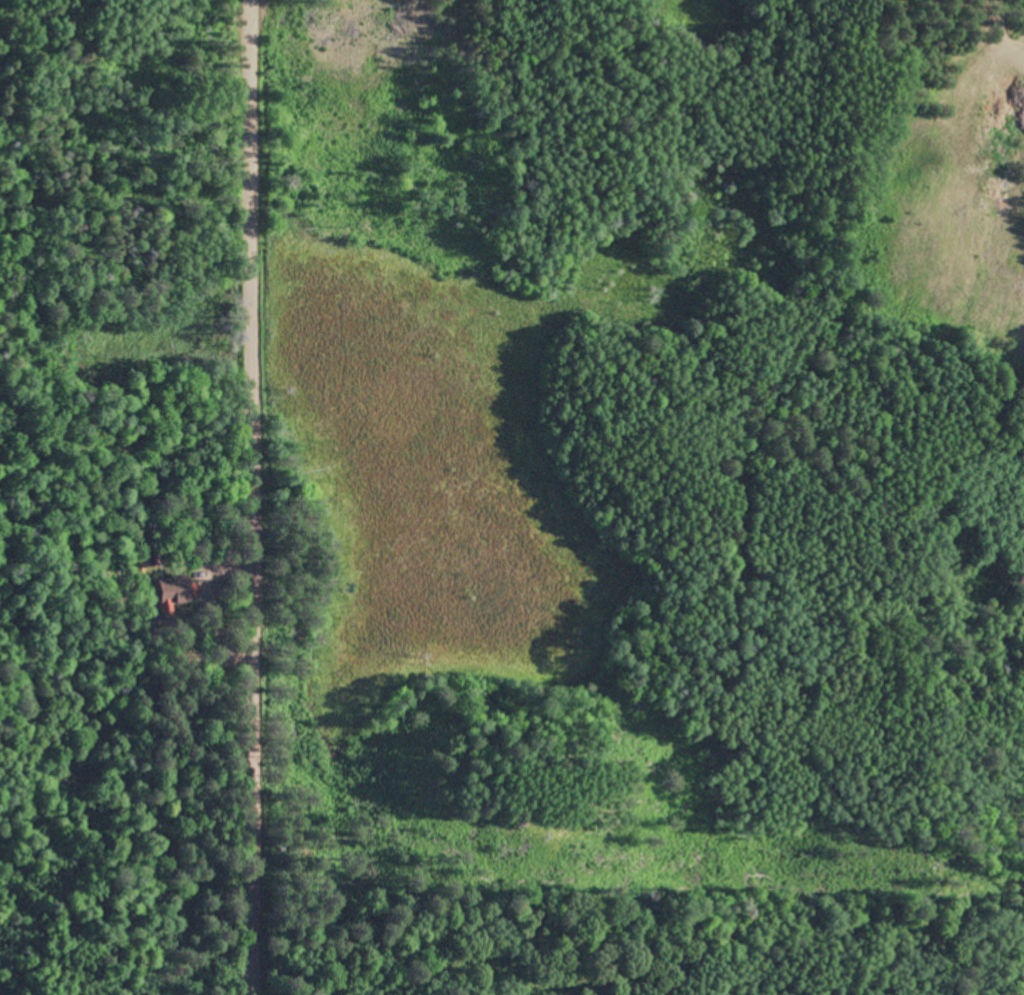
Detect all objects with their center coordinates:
road: (249, 497)

